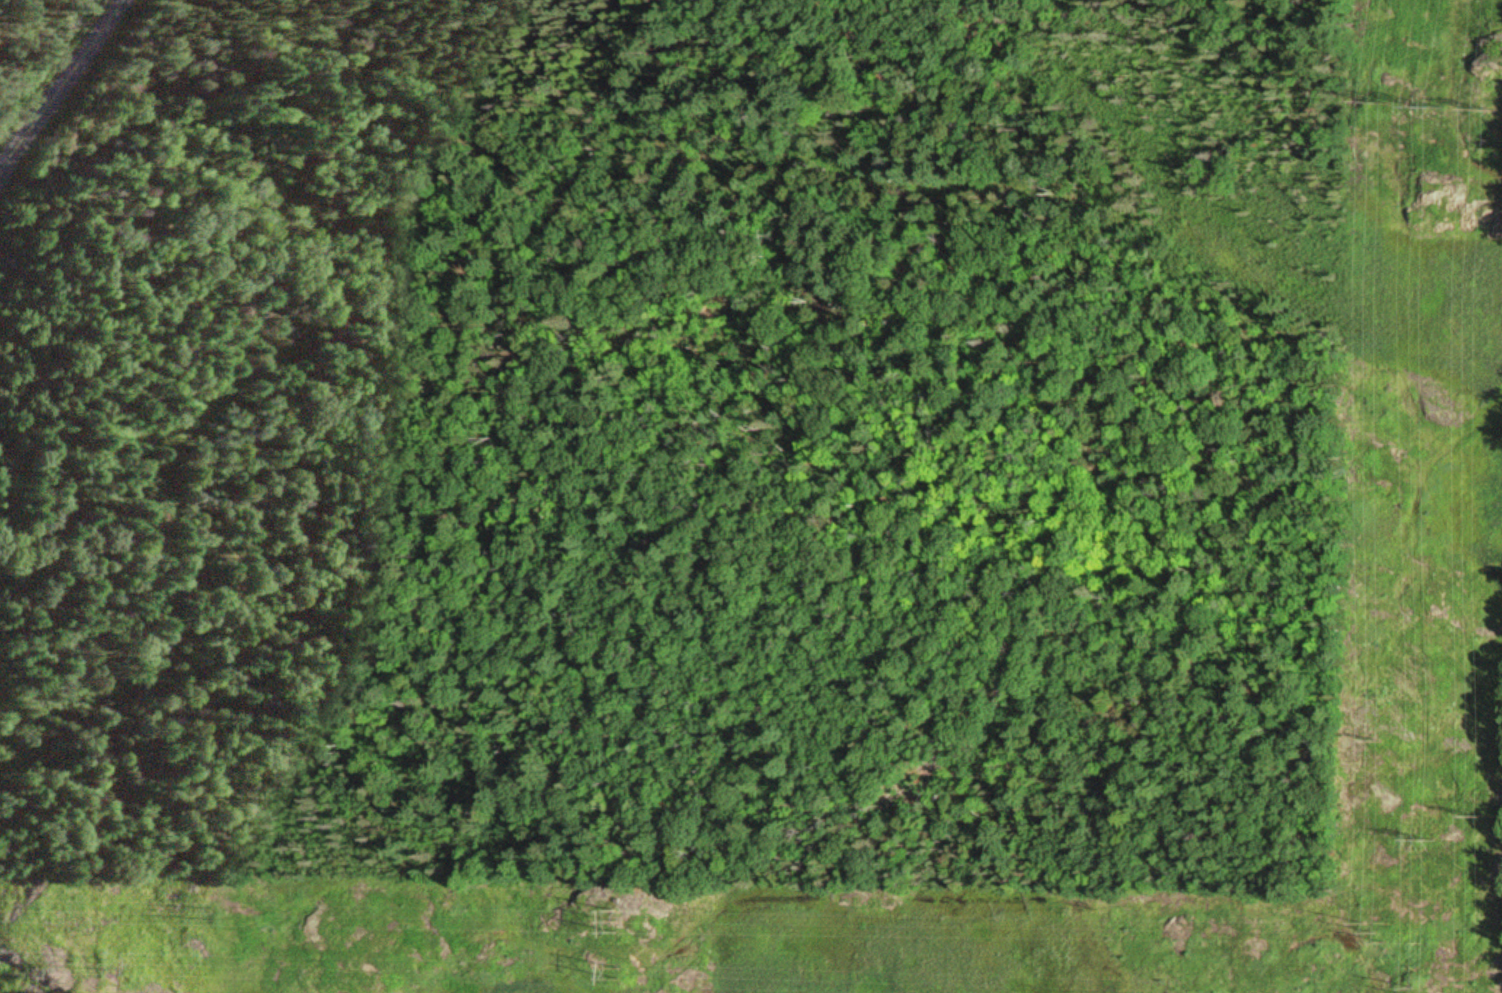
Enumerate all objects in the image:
road: (62, 79)
road: (1196, 353)

